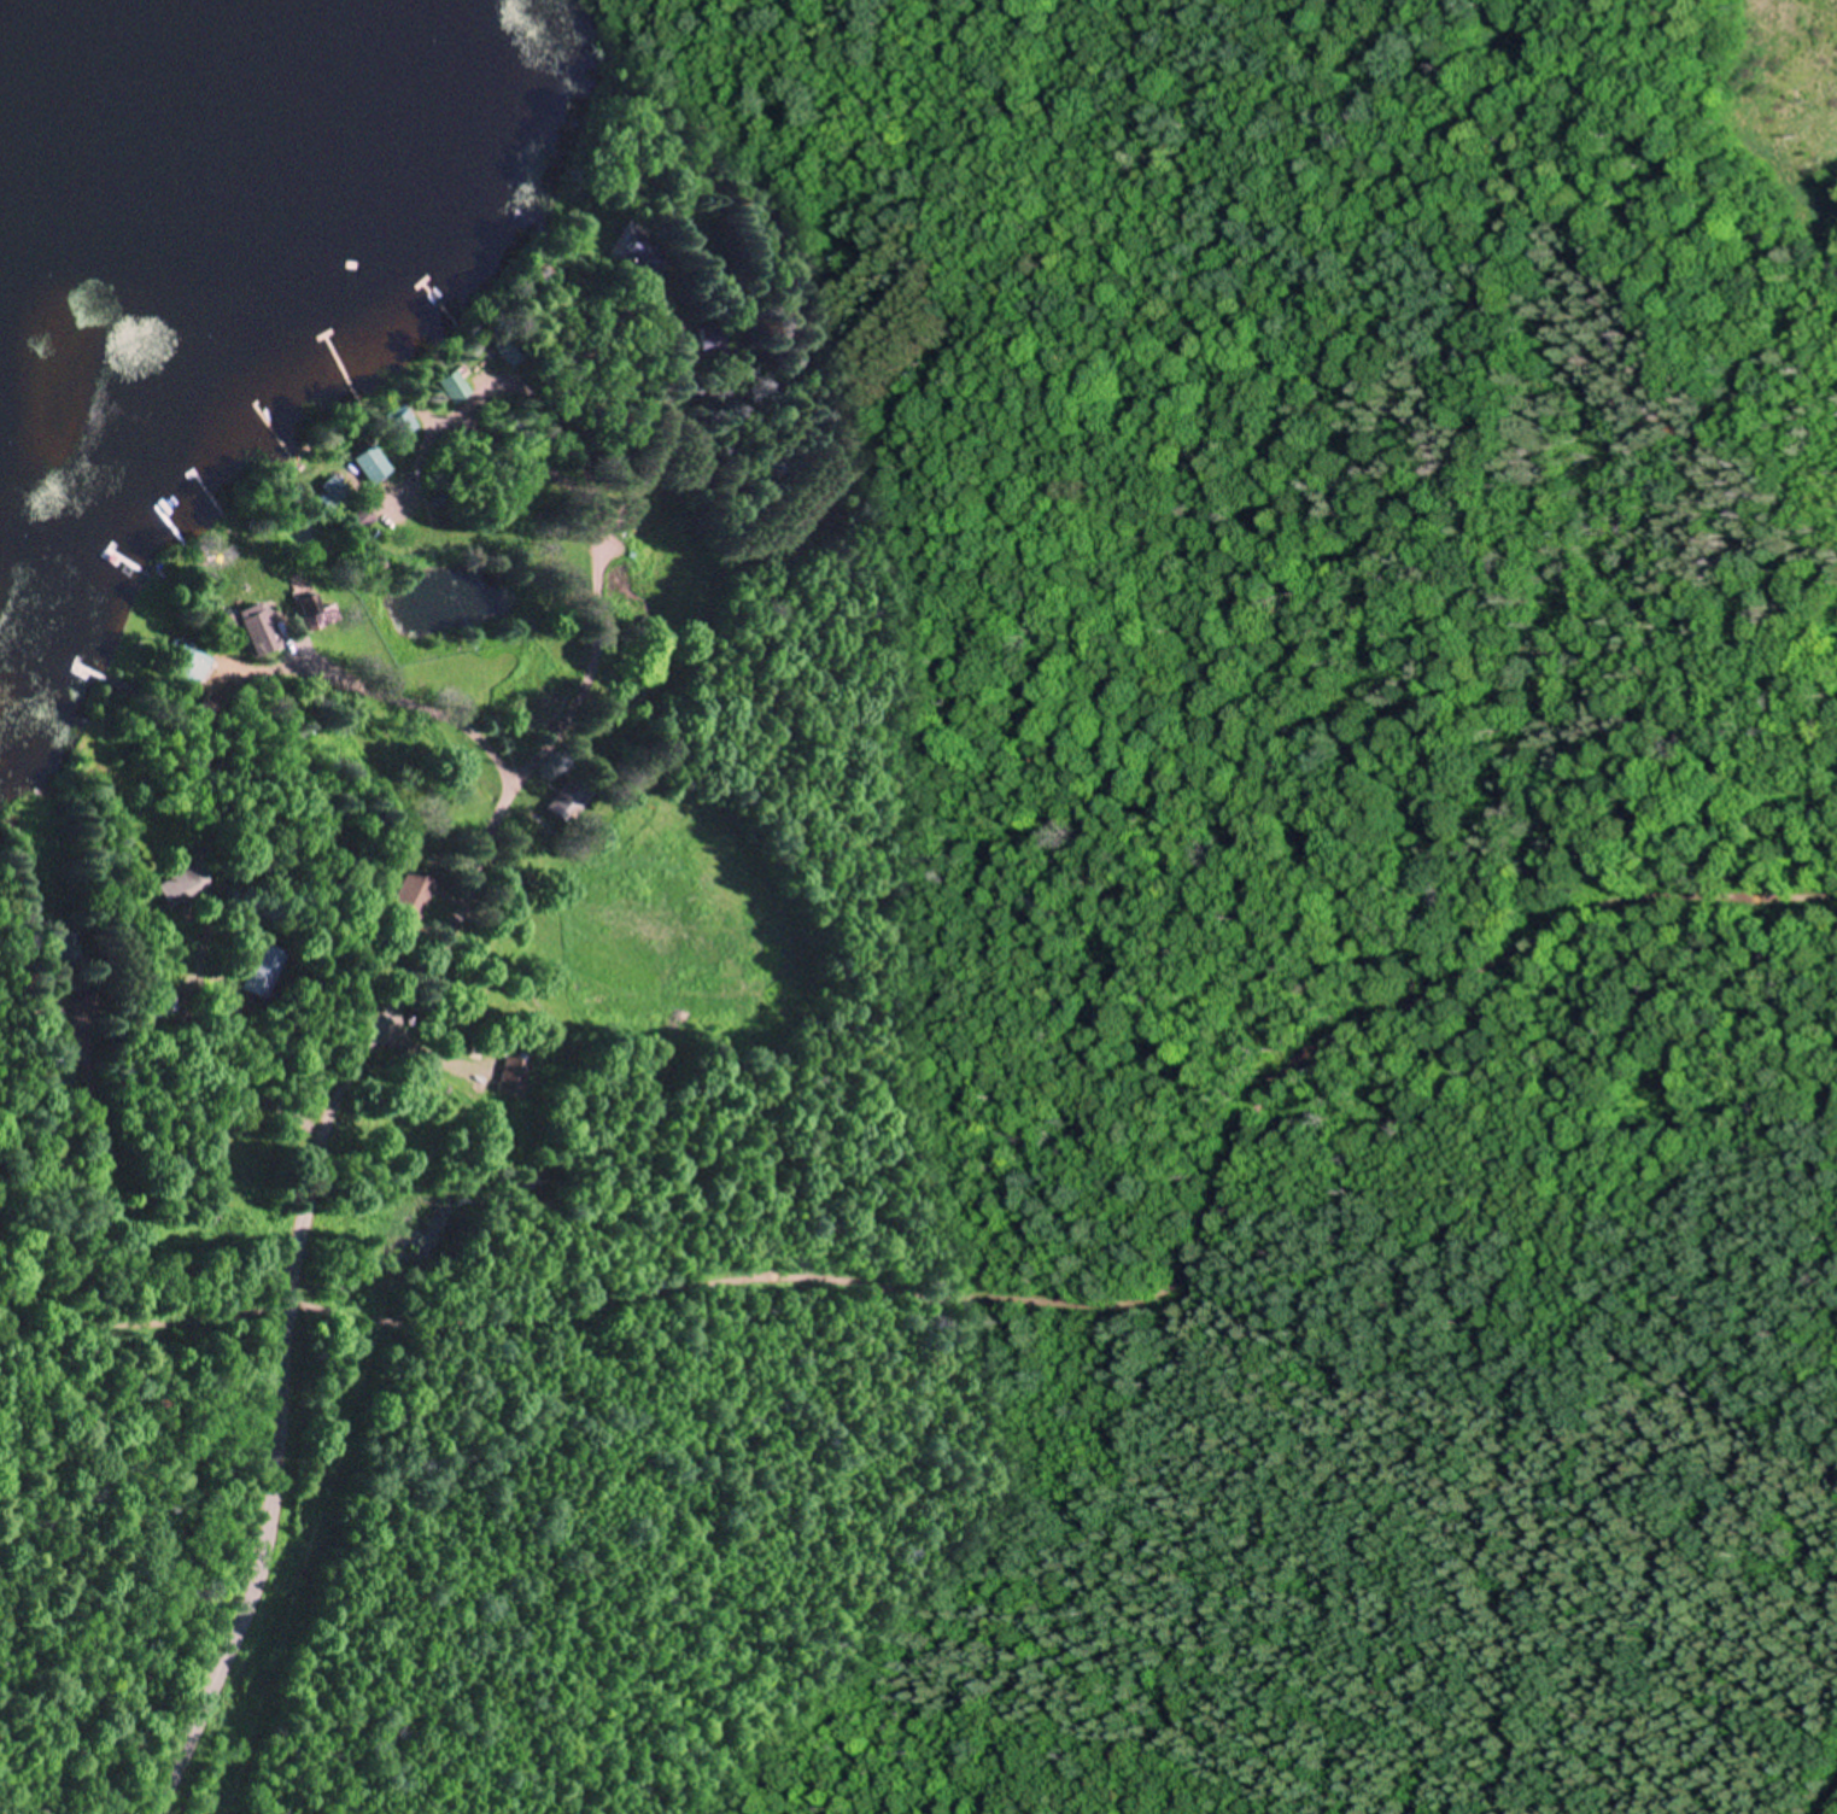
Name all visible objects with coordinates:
building: (381, 472)
building: (264, 634)
building: (414, 894)
road: (386, 1005)

